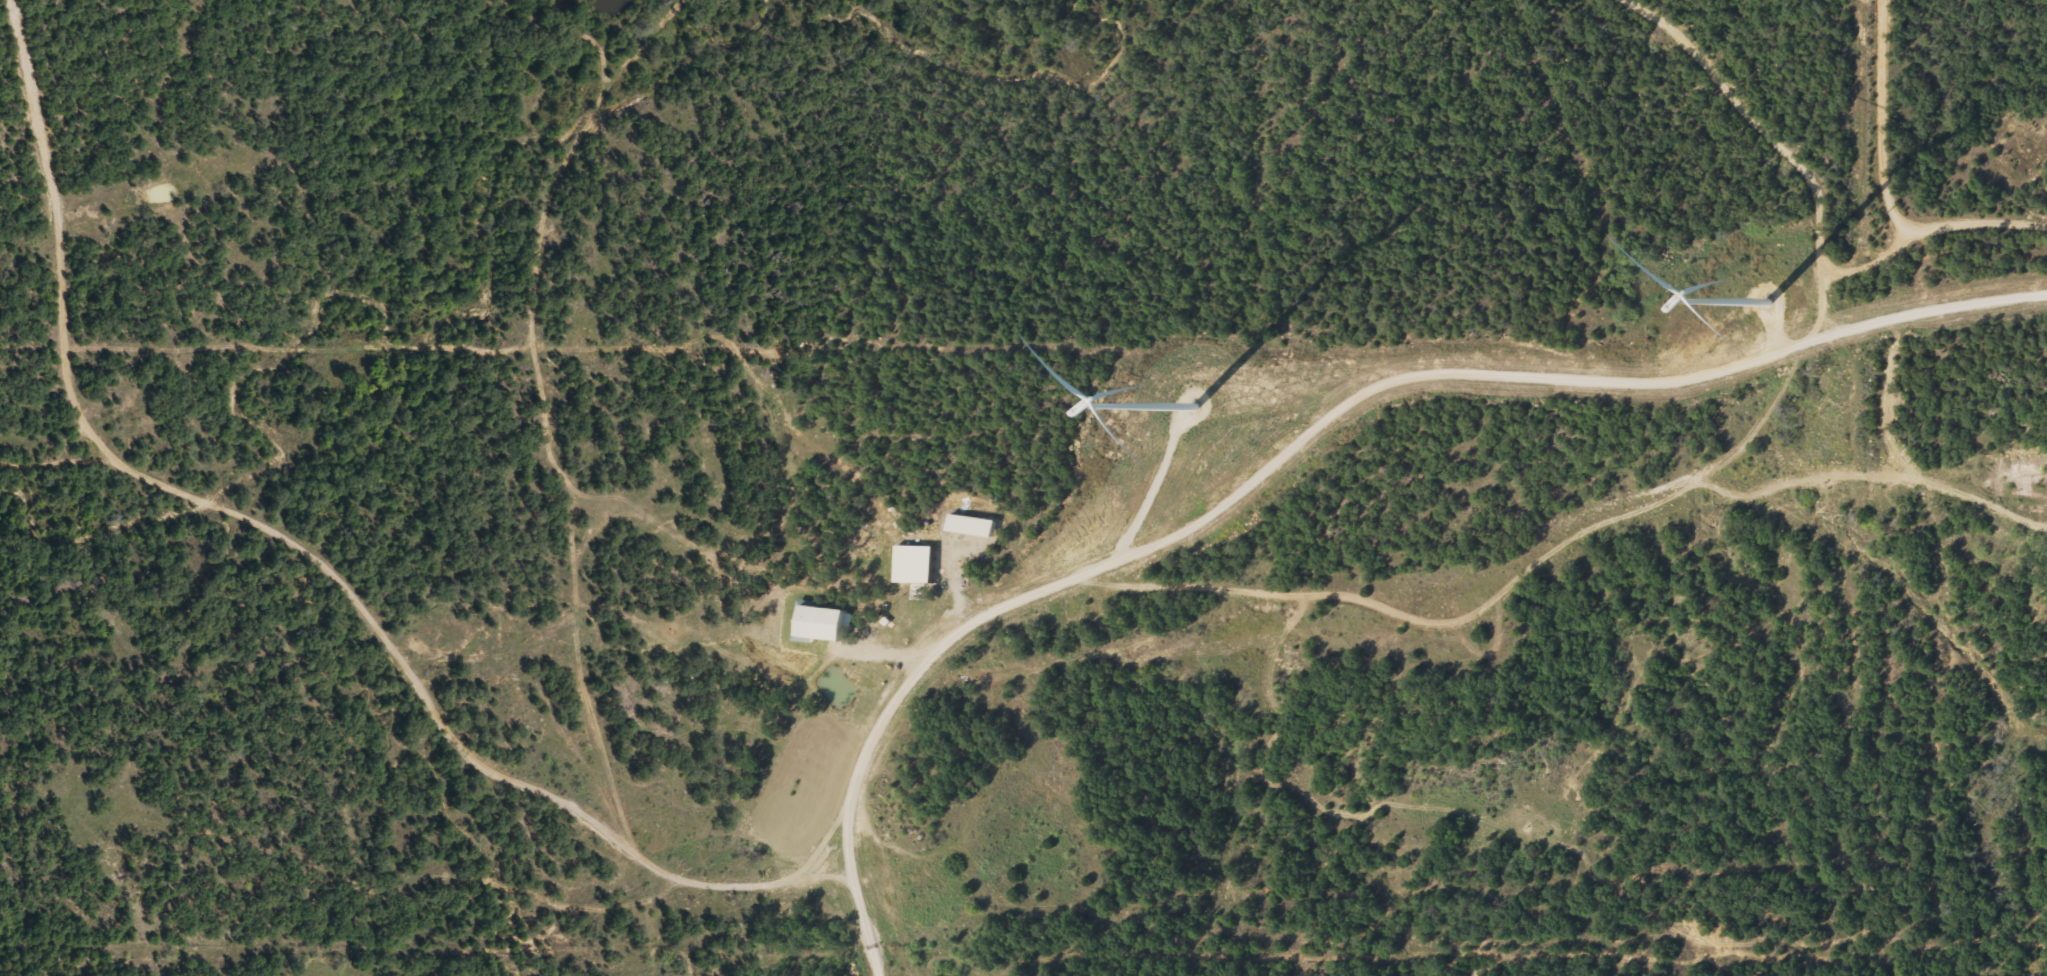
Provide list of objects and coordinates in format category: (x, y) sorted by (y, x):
wind turbine: (1765, 298)
wind turbine: (1200, 397)
building: (918, 578)
road: (1489, 843)

